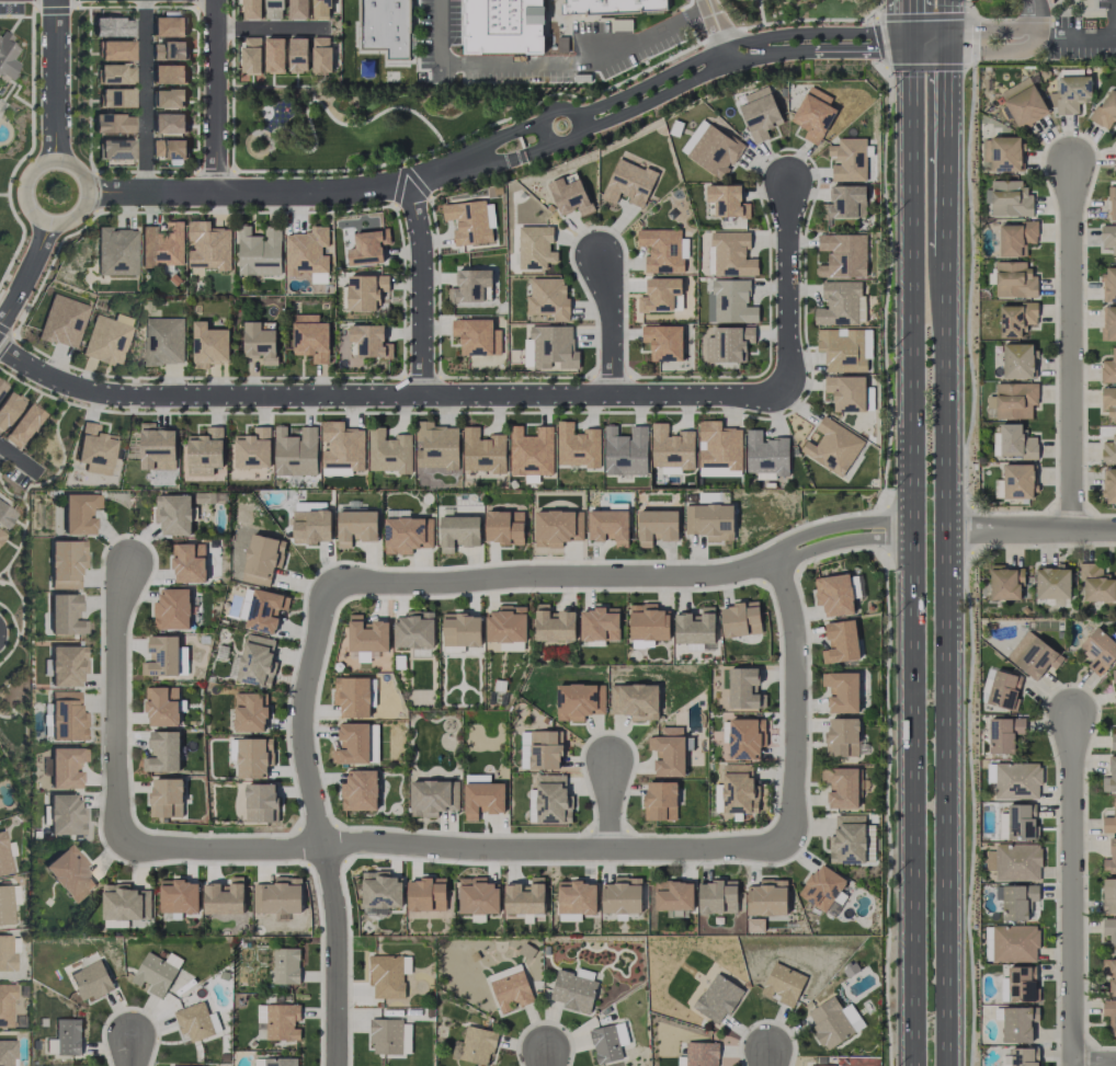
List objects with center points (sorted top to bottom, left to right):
building: (615, 5)
building: (321, 8)
parking lot: (11, 9)
building: (251, 9)
building: (274, 9)
building: (298, 9)
road: (1029, 15)
road: (949, 21)
road: (911, 22)
building: (168, 24)
building: (111, 26)
building: (386, 26)
road: (272, 28)
road: (1000, 31)
road: (717, 33)
road: (897, 43)
road: (931, 43)
traffic signals: (950, 43)
road: (1082, 43)
traffic signals: (912, 44)
building: (114, 49)
road: (728, 49)
building: (168, 50)
building: (274, 55)
building: (297, 55)
building: (321, 55)
road: (999, 55)
building: (7, 56)
building: (251, 56)
road: (546, 62)
building: (168, 73)
building: (115, 74)
road: (53, 80)
road: (699, 80)
building: (1072, 93)
road: (217, 94)
road: (145, 95)
building: (115, 98)
building: (168, 98)
building: (1023, 102)
building: (1105, 110)
road: (547, 114)
building: (760, 114)
building: (813, 114)
road: (585, 121)
building: (111, 123)
building: (168, 123)
building: (694, 136)
road: (950, 140)
road: (489, 141)
building: (114, 149)
building: (168, 149)
building: (715, 151)
building: (1003, 153)
building: (849, 160)
road: (497, 162)
building: (1115, 175)
building: (628, 183)
road: (276, 190)
building: (569, 196)
building: (1010, 198)
building: (727, 200)
building: (845, 203)
building: (1113, 203)
road: (34, 214)
building: (470, 221)
building: (1016, 238)
building: (1108, 238)
building: (162, 245)
building: (208, 245)
building: (367, 248)
building: (535, 248)
building: (663, 250)
building: (116, 251)
building: (259, 251)
building: (307, 251)
building: (732, 253)
building: (843, 255)
road: (26, 272)
building: (1014, 279)
building: (1109, 284)
building: (471, 286)
road: (421, 288)
building: (366, 291)
building: (659, 295)
building: (548, 298)
building: (730, 301)
building: (841, 303)
building: (1015, 319)
road: (608, 320)
building: (61, 321)
building: (1108, 323)
building: (310, 337)
building: (106, 339)
building: (163, 341)
building: (369, 341)
building: (663, 342)
building: (260, 343)
building: (728, 344)
building: (208, 345)
road: (1070, 346)
building: (554, 347)
building: (842, 349)
building: (1017, 360)
building: (1108, 367)
building: (1, 386)
building: (846, 392)
road: (490, 394)
building: (1013, 400)
building: (1108, 403)
building: (7, 409)
building: (22, 425)
building: (1013, 442)
building: (436, 446)
building: (577, 446)
building: (157, 447)
building: (671, 447)
building: (832, 447)
building: (719, 448)
building: (93, 449)
building: (252, 449)
building: (342, 449)
road: (1, 450)
building: (1108, 450)
building: (205, 451)
building: (295, 451)
building: (388, 451)
building: (482, 451)
building: (532, 451)
building: (625, 451)
building: (766, 455)
road: (19, 461)
building: (1017, 481)
building: (1109, 485)
building: (77, 514)
building: (173, 514)
building: (4, 516)
building: (311, 521)
building: (710, 521)
road: (839, 525)
building: (657, 526)
building: (356, 527)
building: (504, 527)
building: (557, 527)
building: (608, 527)
road: (1033, 530)
building: (458, 531)
building: (1, 532)
building: (405, 535)
road: (843, 541)
road: (913, 554)
building: (261, 559)
building: (189, 562)
building: (65, 563)
road: (554, 576)
building: (1005, 583)
building: (1052, 583)
building: (1096, 584)
building: (833, 594)
building: (172, 609)
building: (260, 610)
building: (64, 614)
building: (740, 619)
building: (648, 622)
building: (506, 624)
building: (554, 624)
building: (599, 624)
building: (695, 627)
building: (414, 630)
building: (462, 630)
building: (367, 638)
building: (841, 642)
building: (1098, 650)
road: (950, 652)
building: (1033, 655)
building: (161, 656)
building: (257, 661)
building: (66, 665)
building: (743, 687)
building: (1003, 689)
building: (841, 691)
building: (352, 696)
building: (579, 701)
building: (635, 701)
road: (795, 703)
building: (162, 706)
road: (118, 708)
building: (249, 712)
road: (304, 715)
building: (66, 717)
building: (1004, 734)
building: (842, 737)
building: (743, 738)
building: (1113, 741)
building: (352, 744)
building: (540, 749)
building: (162, 752)
building: (668, 755)
building: (253, 757)
building: (64, 767)
building: (1109, 777)
building: (1017, 780)
building: (841, 787)
building: (360, 790)
building: (482, 795)
building: (166, 798)
building: (432, 798)
building: (551, 798)
building: (660, 801)
building: (260, 802)
building: (532, 805)
road: (611, 805)
building: (64, 814)
building: (1109, 821)
building: (1018, 822)
building: (847, 839)
road: (457, 849)
building: (3, 856)
building: (1111, 858)
building: (1017, 862)
building: (69, 873)
building: (821, 887)
road: (1071, 891)
building: (379, 893)
building: (426, 894)
building: (673, 895)
building: (1109, 895)
building: (179, 896)
building: (224, 896)
building: (278, 896)
building: (478, 896)
building: (622, 896)
building: (717, 896)
building: (525, 897)
building: (767, 897)
building: (576, 899)
building: (1015, 901)
building: (121, 904)
building: (5, 905)
building: (1109, 931)
building: (1014, 943)
building: (8, 953)
road: (337, 955)
building: (285, 965)
building: (157, 973)
building: (1109, 973)
building: (388, 975)
building: (91, 981)
building: (783, 984)
building: (1018, 985)
building: (573, 989)
building: (511, 990)
building: (717, 998)
building: (5, 1005)
building: (1109, 1015)
building: (196, 1021)
building: (283, 1021)
building: (834, 1022)
building: (1017, 1023)
building: (386, 1035)
building: (67, 1036)
building: (608, 1042)
building: (477, 1045)
road: (132, 1052)
building: (7, 1053)
building: (702, 1054)
building: (1024, 1056)
road: (546, 1058)
road: (770, 1058)
building: (275, 1062)
road: (1094, 1062)
building: (182, 1065)

